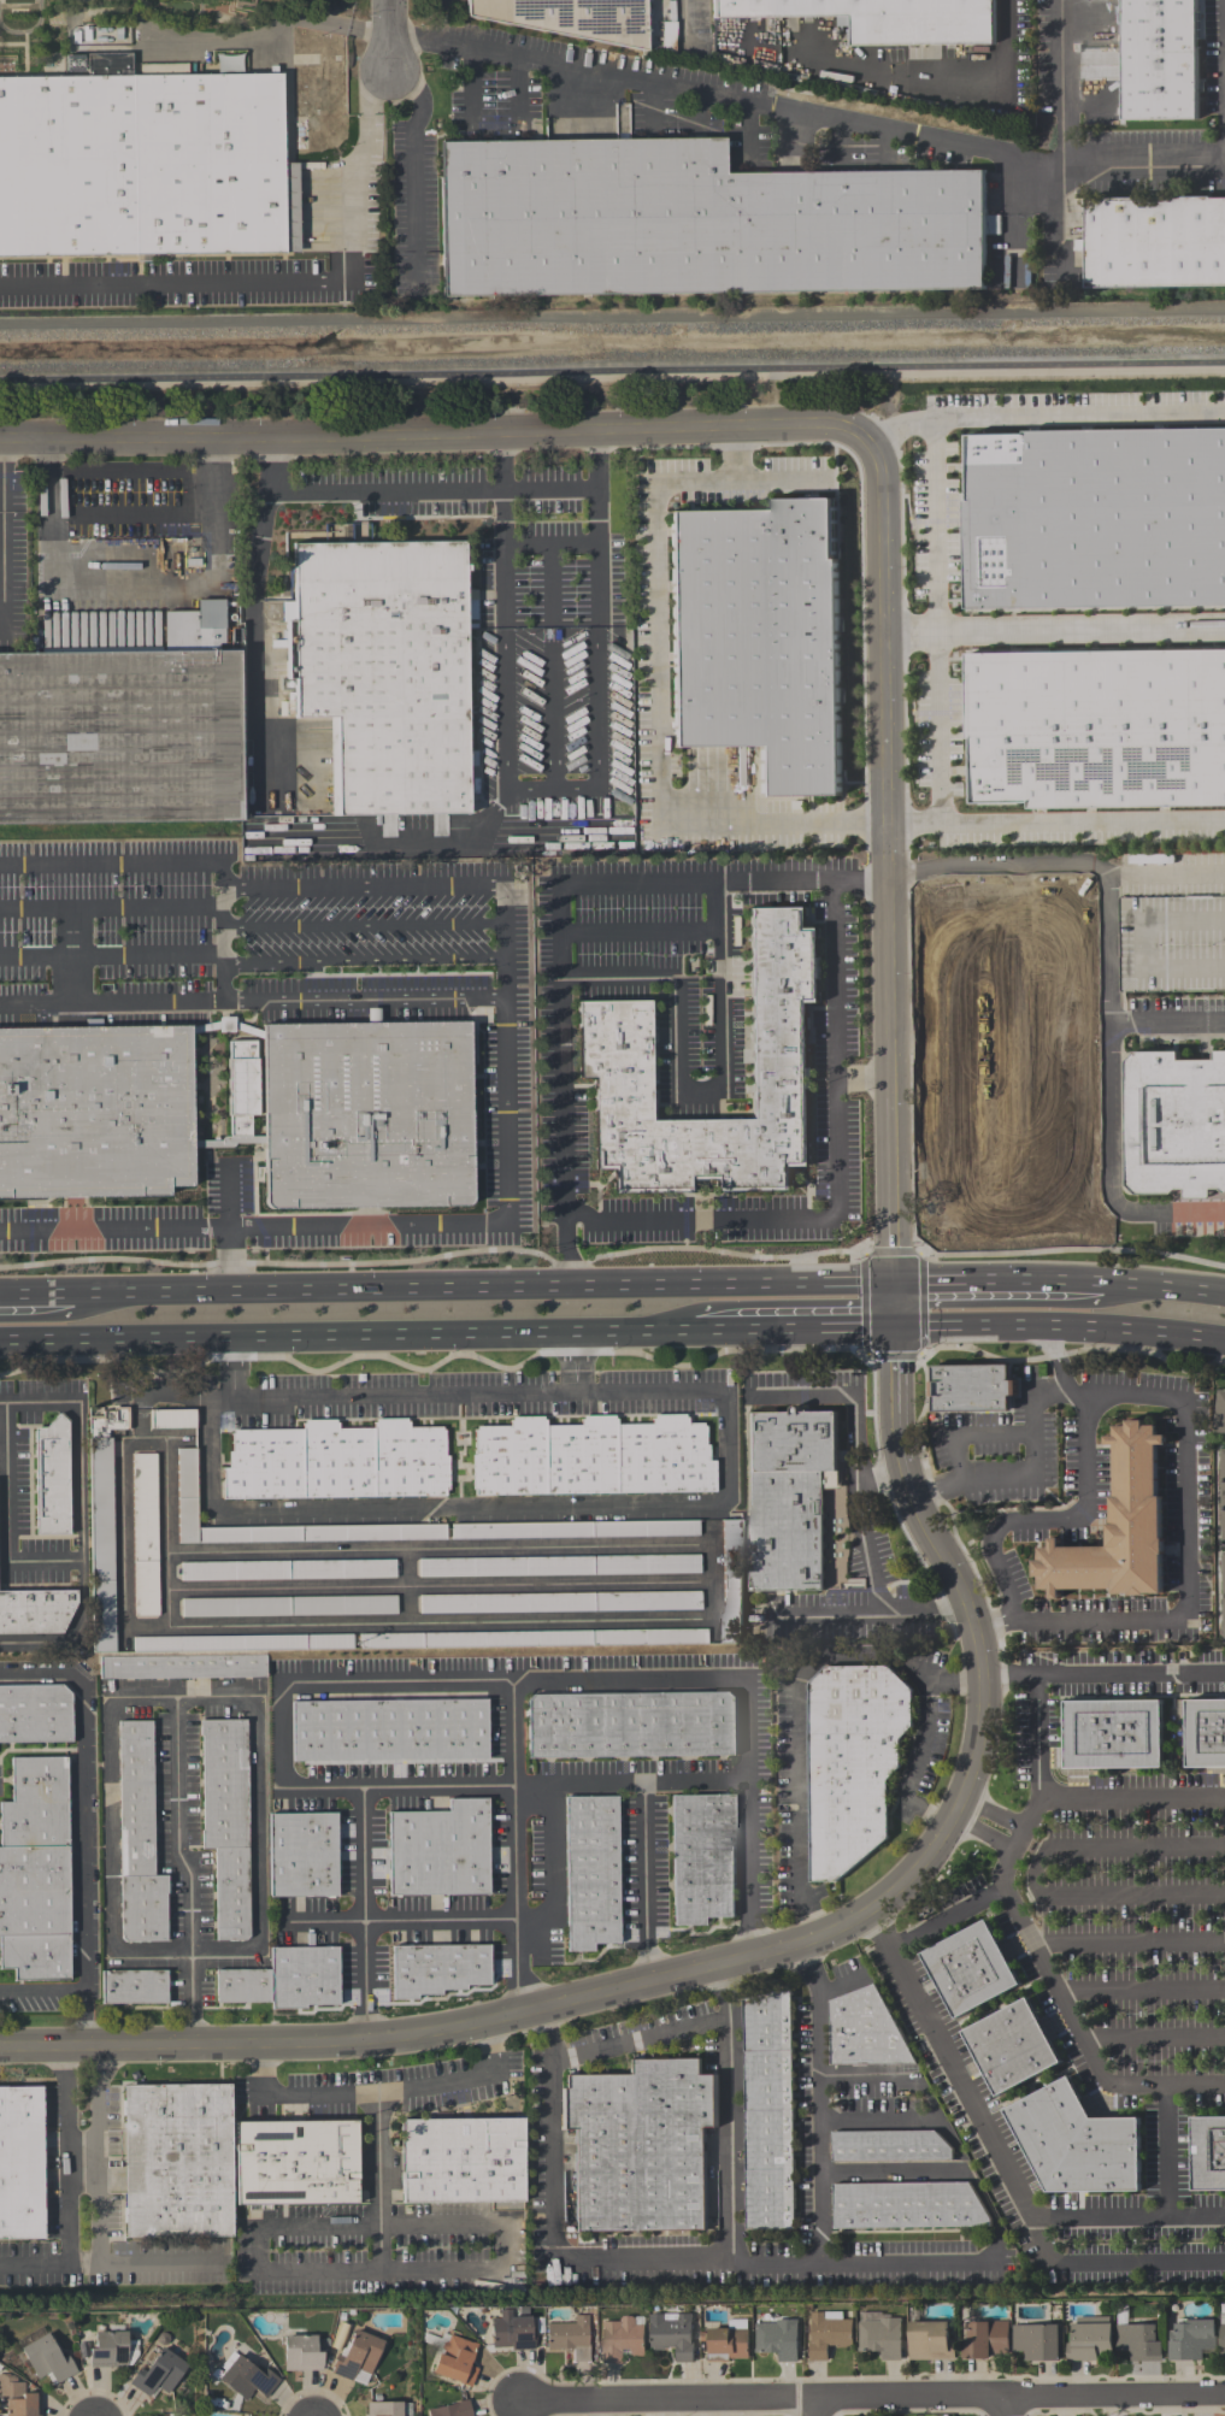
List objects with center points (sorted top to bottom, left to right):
building: (570, 19)
building: (879, 19)
road: (1224, 24)
road: (267, 31)
road: (390, 34)
building: (1158, 60)
road: (867, 69)
road: (1060, 82)
road: (807, 114)
road: (408, 165)
building: (145, 167)
building: (691, 225)
building: (1154, 244)
road: (287, 283)
road: (612, 370)
road: (900, 424)
road: (434, 429)
road: (593, 460)
road: (782, 478)
road: (937, 478)
road: (135, 515)
building: (1095, 515)
road: (267, 517)
road: (2, 531)
road: (549, 543)
road: (135, 590)
road: (1055, 629)
building: (194, 630)
building: (759, 637)
road: (658, 658)
road: (552, 668)
building: (382, 672)
road: (254, 690)
road: (600, 705)
building: (1095, 729)
building: (119, 739)
road: (846, 820)
road: (1056, 825)
road: (181, 867)
road: (1167, 878)
road: (113, 908)
road: (560, 920)
road: (366, 926)
road: (642, 932)
building: (1171, 942)
parking lot: (1171, 942)
road: (1143, 944)
road: (113, 954)
road: (366, 961)
road: (1109, 991)
road: (366, 1002)
road: (113, 1003)
road: (1167, 1023)
building: (225, 1024)
building: (1001, 1027)
building: (609, 1043)
road: (865, 1082)
building: (241, 1084)
road: (691, 1095)
building: (95, 1109)
building: (365, 1119)
building: (1174, 1125)
road: (1003, 1167)
road: (507, 1169)
road: (837, 1188)
parking lot: (1020, 1191)
road: (1011, 1215)
road: (228, 1228)
road: (1012, 1279)
traffic signals: (897, 1284)
road: (1176, 1287)
road: (487, 1290)
road: (39, 1297)
road: (921, 1304)
road: (864, 1306)
road: (1061, 1325)
road: (783, 1327)
traffic signals: (897, 1327)
road: (335, 1336)
road: (1054, 1359)
road: (234, 1368)
building: (970, 1389)
road: (173, 1393)
road: (39, 1403)
building: (1220, 1413)
building: (172, 1419)
road: (1186, 1431)
road: (971, 1434)
road: (4, 1451)
building: (590, 1460)
road: (79, 1463)
building: (337, 1465)
road: (1033, 1469)
building: (52, 1479)
road: (8, 1483)
building: (187, 1486)
road: (935, 1491)
building: (1223, 1492)
road: (855, 1493)
building: (787, 1501)
road: (389, 1510)
road: (1049, 1519)
building: (102, 1525)
building: (573, 1530)
building: (1115, 1532)
building: (145, 1536)
road: (46, 1562)
building: (559, 1566)
building: (288, 1571)
building: (732, 1581)
building: (1224, 1592)
building: (561, 1602)
building: (288, 1607)
building: (35, 1614)
road: (1097, 1620)
road: (993, 1622)
road: (973, 1628)
building: (531, 1638)
building: (241, 1643)
building: (183, 1667)
road: (1129, 1673)
road: (1008, 1674)
road: (42, 1675)
road: (443, 1680)
road: (228, 1698)
road: (797, 1708)
building: (36, 1716)
building: (632, 1727)
building: (391, 1733)
building: (1113, 1734)
building: (1205, 1734)
road: (1035, 1737)
building: (853, 1764)
road: (915, 1766)
road: (631, 1784)
road: (438, 1787)
road: (1130, 1797)
road: (994, 1811)
building: (228, 1825)
road: (177, 1826)
road: (983, 1839)
building: (140, 1843)
road: (514, 1848)
building: (440, 1852)
building: (305, 1857)
building: (705, 1860)
road: (83, 1866)
building: (36, 1874)
building: (590, 1874)
road: (1035, 1874)
road: (646, 1882)
road: (440, 1917)
road: (946, 1919)
road: (878, 1932)
road: (1129, 1943)
building: (437, 1970)
building: (970, 1970)
building: (284, 1981)
building: (136, 1988)
road: (43, 1991)
road: (1141, 1991)
road: (1059, 1997)
building: (866, 2032)
road: (1154, 2038)
road: (640, 2039)
building: (1011, 2049)
road: (463, 2078)
building: (768, 2111)
building: (1076, 2144)
building: (640, 2146)
building: (889, 2147)
road: (1165, 2150)
building: (1208, 2155)
building: (176, 2162)
building: (461, 2162)
building: (20, 2164)
building: (295, 2164)
road: (1006, 2169)
road: (70, 2190)
building: (906, 2206)
road: (98, 2215)
road: (379, 2243)
road: (501, 2243)
road: (670, 2262)
road: (777, 2264)
road: (884, 2264)
road: (1113, 2265)
building: (511, 2332)
building: (828, 2334)
building: (672, 2335)
building: (569, 2339)
building: (777, 2339)
building: (881, 2339)
building: (1090, 2339)
building: (1223, 2339)
building: (620, 2340)
building: (984, 2340)
building: (1191, 2340)
building: (728, 2343)
building: (929, 2343)
building: (1036, 2343)
building: (1138, 2343)
building: (112, 2351)
building: (301, 2355)
building: (357, 2357)
building: (47, 2361)
building: (455, 2362)
building: (158, 2374)
building: (245, 2379)
building: (17, 2398)
road: (873, 2399)
road: (814, 2408)
road: (1011, 2408)
building: (383, 2409)
building: (450, 2410)
building: (173, 2415)

